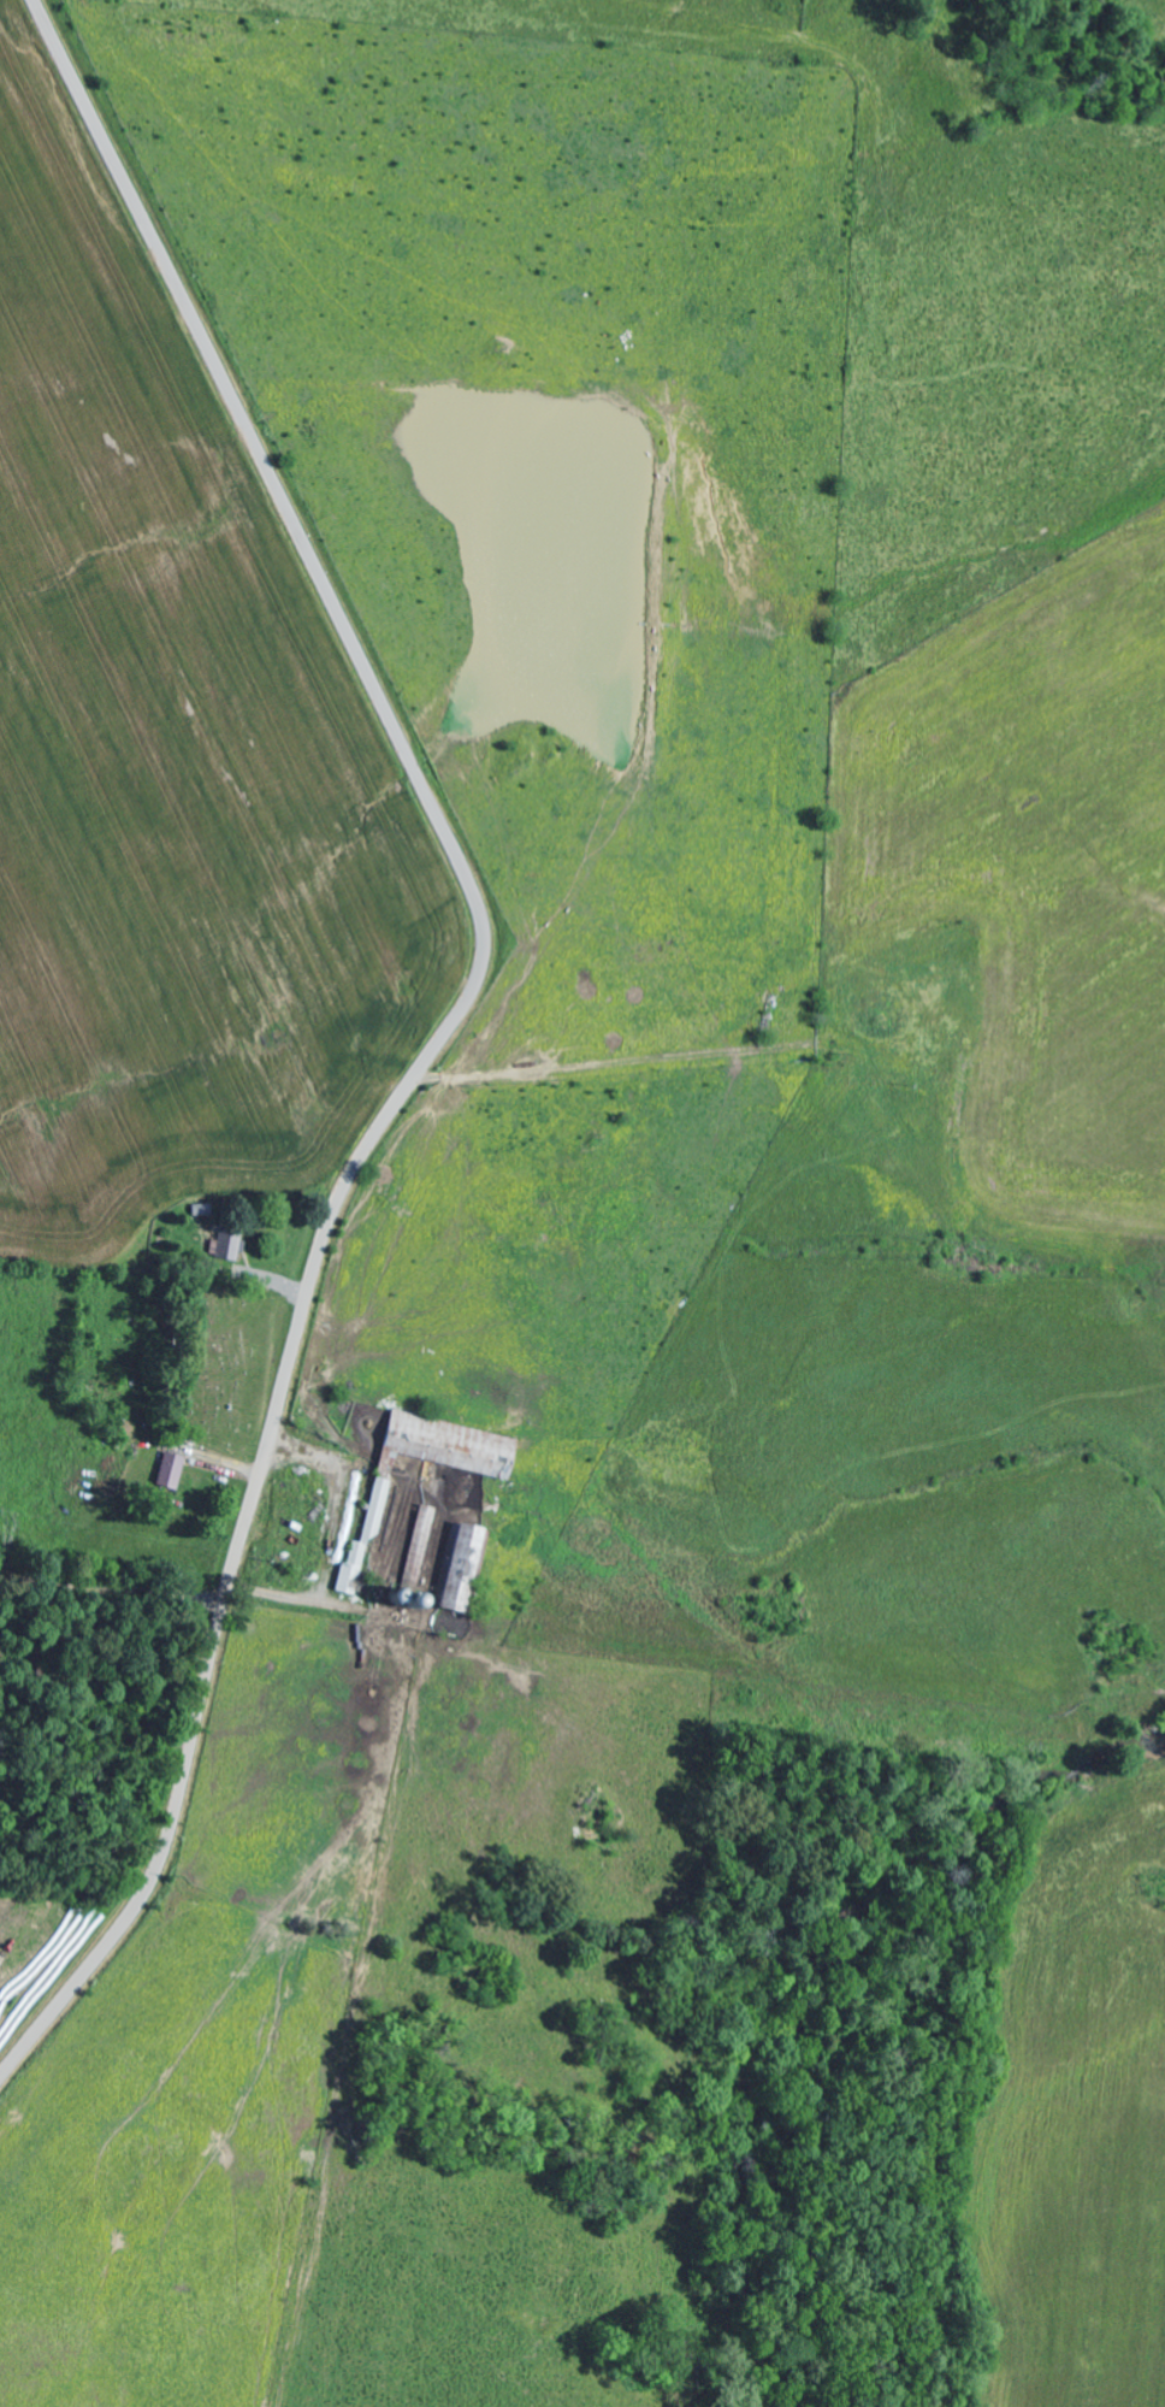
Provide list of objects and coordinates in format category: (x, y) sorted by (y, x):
road: (443, 1033)
building: (230, 1245)
park: (221, 1367)
building: (439, 1456)
building: (173, 1473)
building: (461, 1569)
building: (355, 1574)

